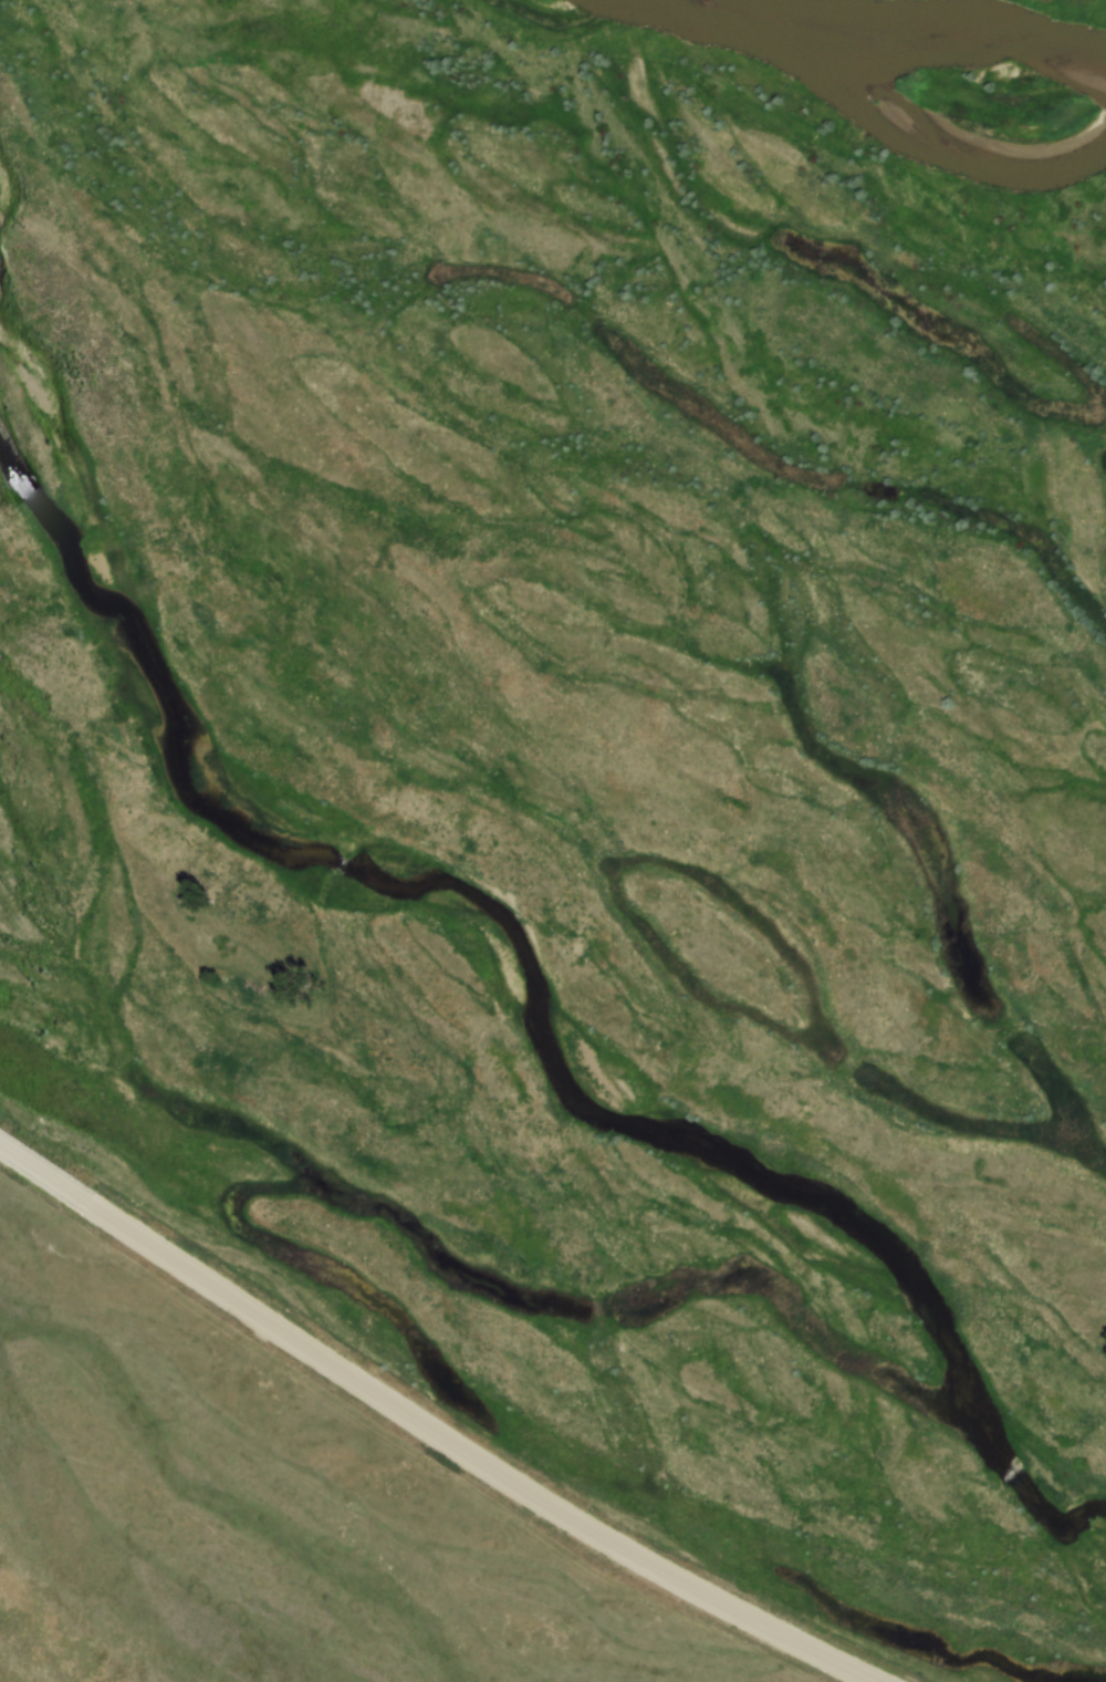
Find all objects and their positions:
road: (419, 1437)

